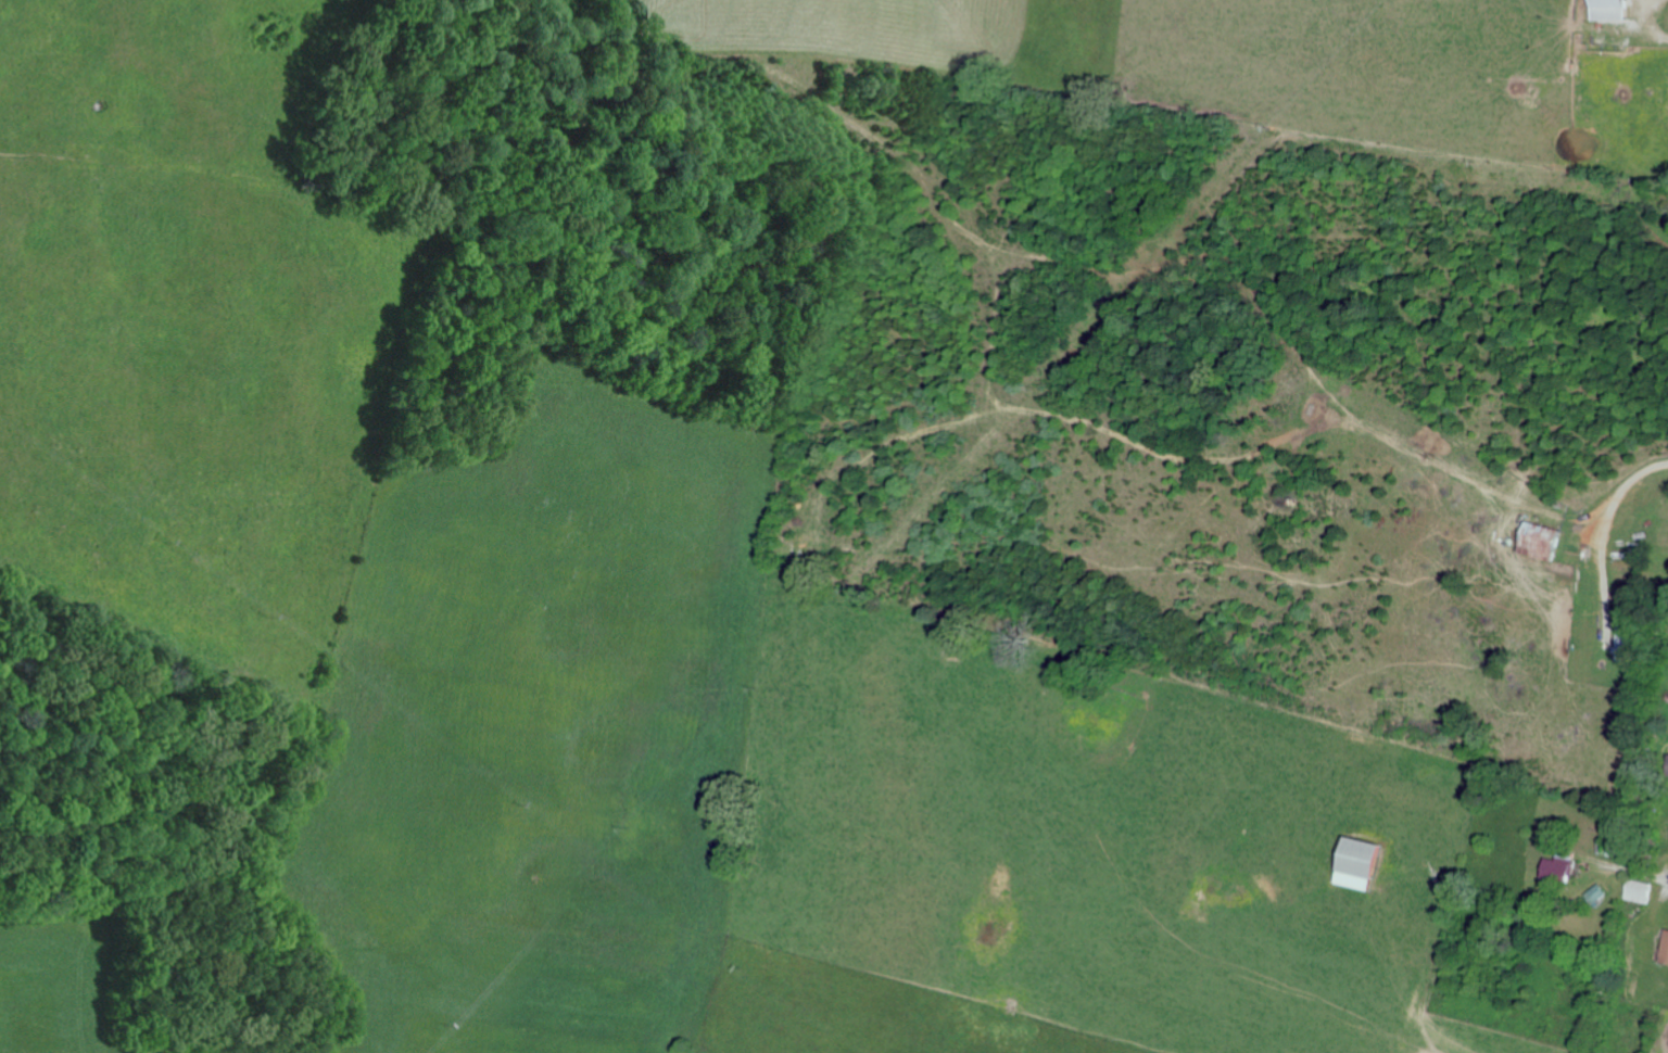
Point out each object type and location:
building: (1620, 9)
building: (1553, 542)
building: (1630, 636)
building: (1369, 863)
building: (1568, 867)
building: (1647, 890)
building: (1605, 893)
building: (1667, 960)

